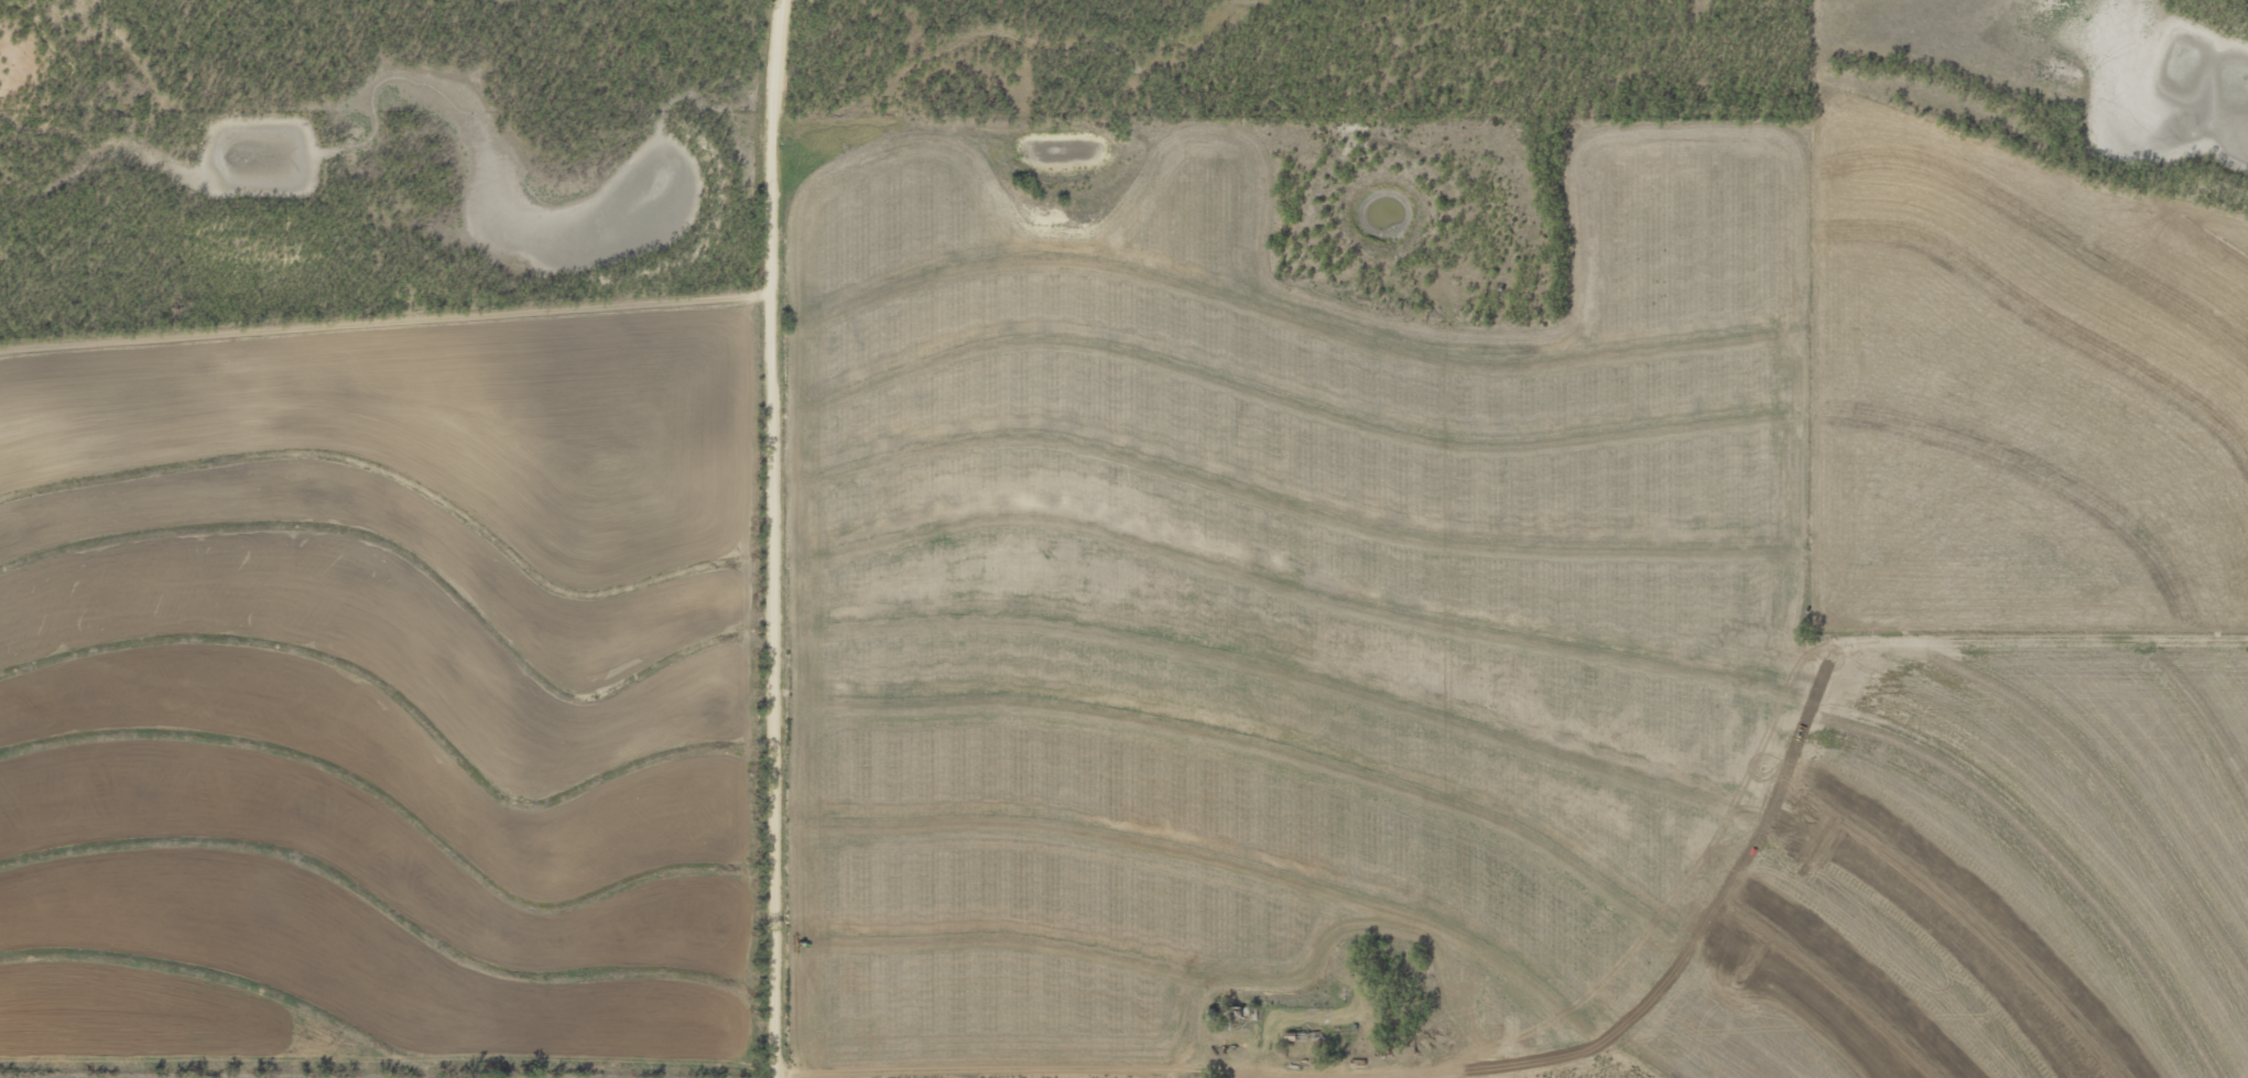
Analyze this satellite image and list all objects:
road: (806, 538)

